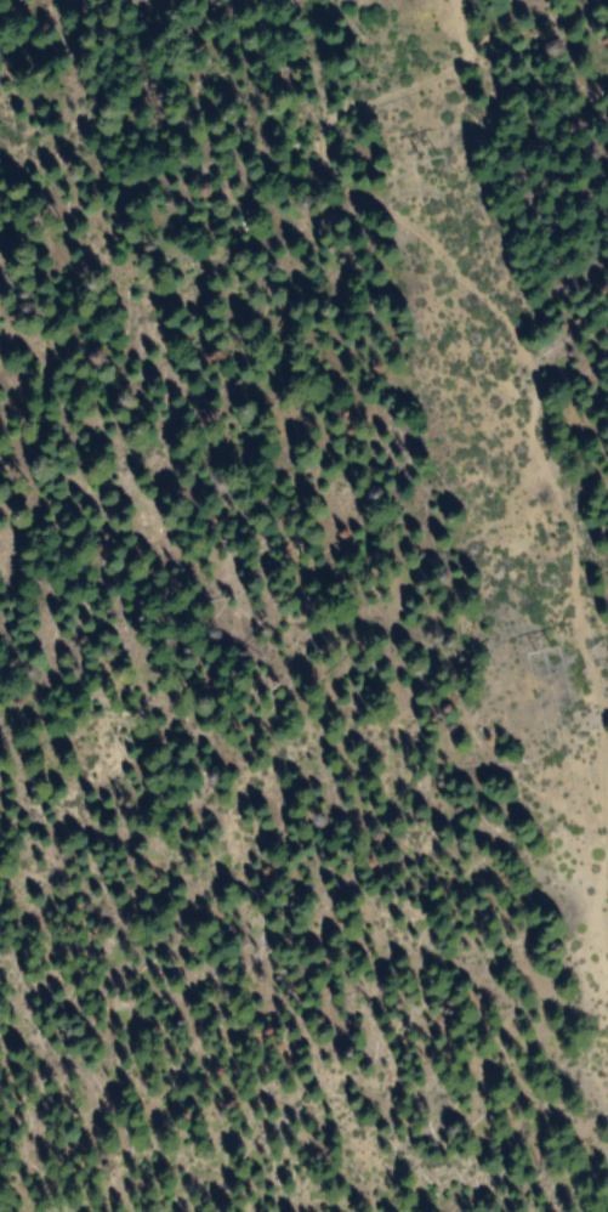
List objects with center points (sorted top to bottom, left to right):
power tower: (419, 157)
power tower: (532, 649)

